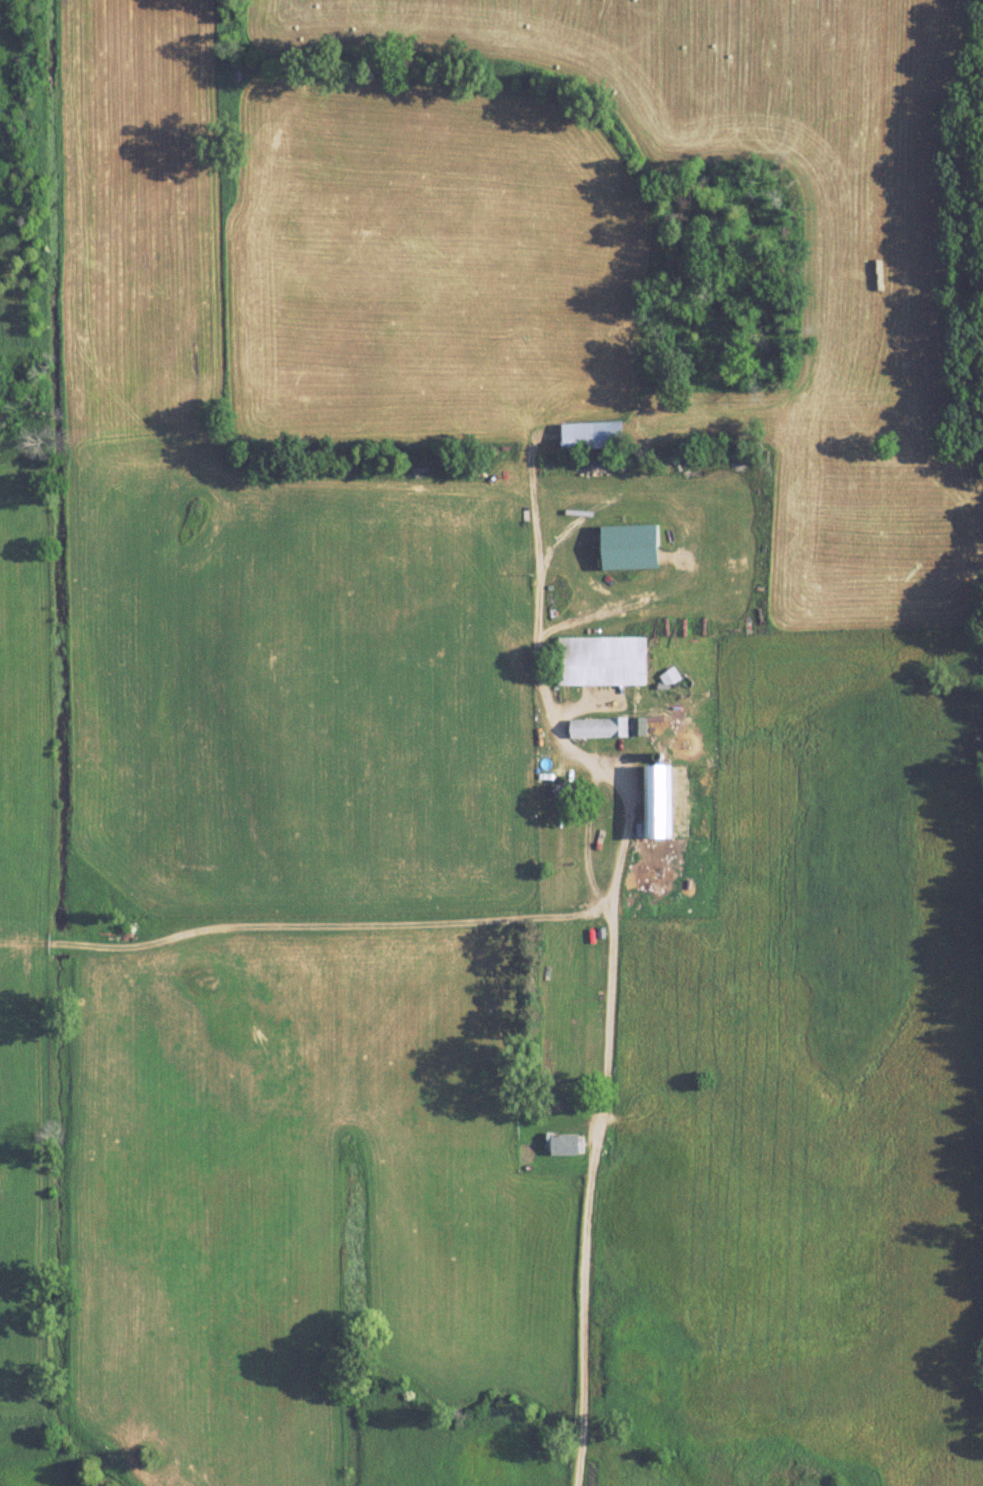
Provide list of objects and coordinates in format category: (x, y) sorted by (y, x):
building: (597, 435)
building: (604, 661)
building: (641, 726)
building: (602, 728)
building: (566, 791)
building: (664, 802)
road: (611, 942)
building: (567, 1143)

